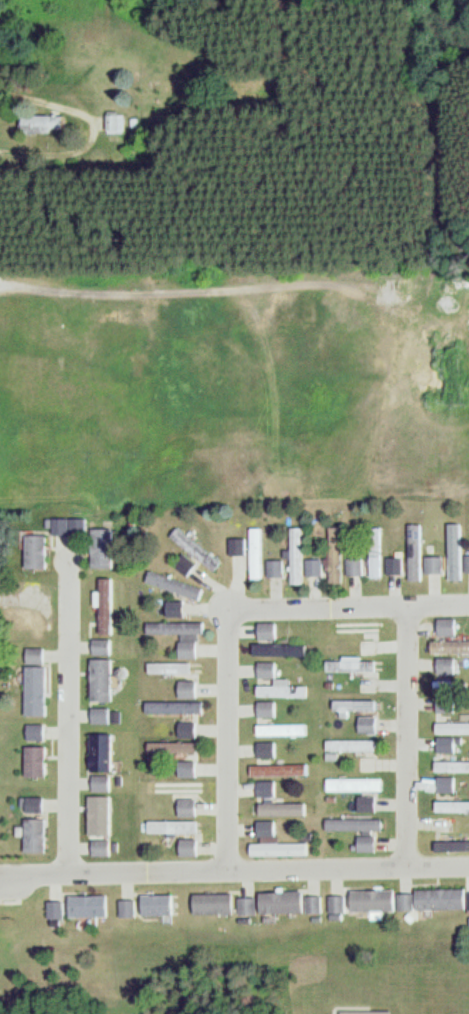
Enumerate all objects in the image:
building: (38, 122)
building: (113, 123)
building: (50, 539)
building: (232, 546)
building: (97, 547)
building: (192, 550)
building: (372, 552)
building: (452, 552)
building: (252, 553)
building: (293, 555)
building: (416, 555)
building: (333, 556)
building: (466, 564)
building: (350, 567)
building: (270, 568)
building: (311, 568)
building: (170, 585)
building: (103, 606)
building: (169, 609)
road: (225, 617)
building: (350, 627)
building: (443, 627)
building: (263, 631)
building: (175, 635)
building: (447, 646)
building: (97, 647)
building: (274, 650)
building: (38, 655)
building: (340, 664)
building: (443, 666)
building: (165, 668)
building: (96, 680)
building: (273, 683)
building: (182, 689)
building: (39, 691)
building: (442, 704)
building: (168, 707)
building: (261, 709)
building: (97, 716)
road: (67, 721)
building: (362, 725)
building: (450, 728)
building: (182, 729)
building: (278, 730)
building: (38, 732)
road: (408, 736)
building: (441, 744)
building: (347, 746)
building: (166, 747)
building: (260, 749)
building: (39, 761)
building: (95, 762)
building: (450, 766)
building: (182, 768)
building: (275, 770)
building: (349, 784)
building: (441, 784)
building: (169, 787)
building: (260, 789)
building: (37, 805)
building: (450, 806)
building: (183, 807)
building: (278, 809)
building: (168, 827)
building: (262, 829)
building: (352, 830)
building: (38, 835)
building: (97, 847)
building: (182, 847)
building: (274, 849)
road: (348, 869)
road: (114, 874)
building: (367, 900)
building: (428, 900)
building: (211, 903)
building: (266, 903)
building: (160, 904)
building: (93, 905)
building: (309, 905)
building: (332, 905)
building: (130, 908)
building: (360, 1012)

